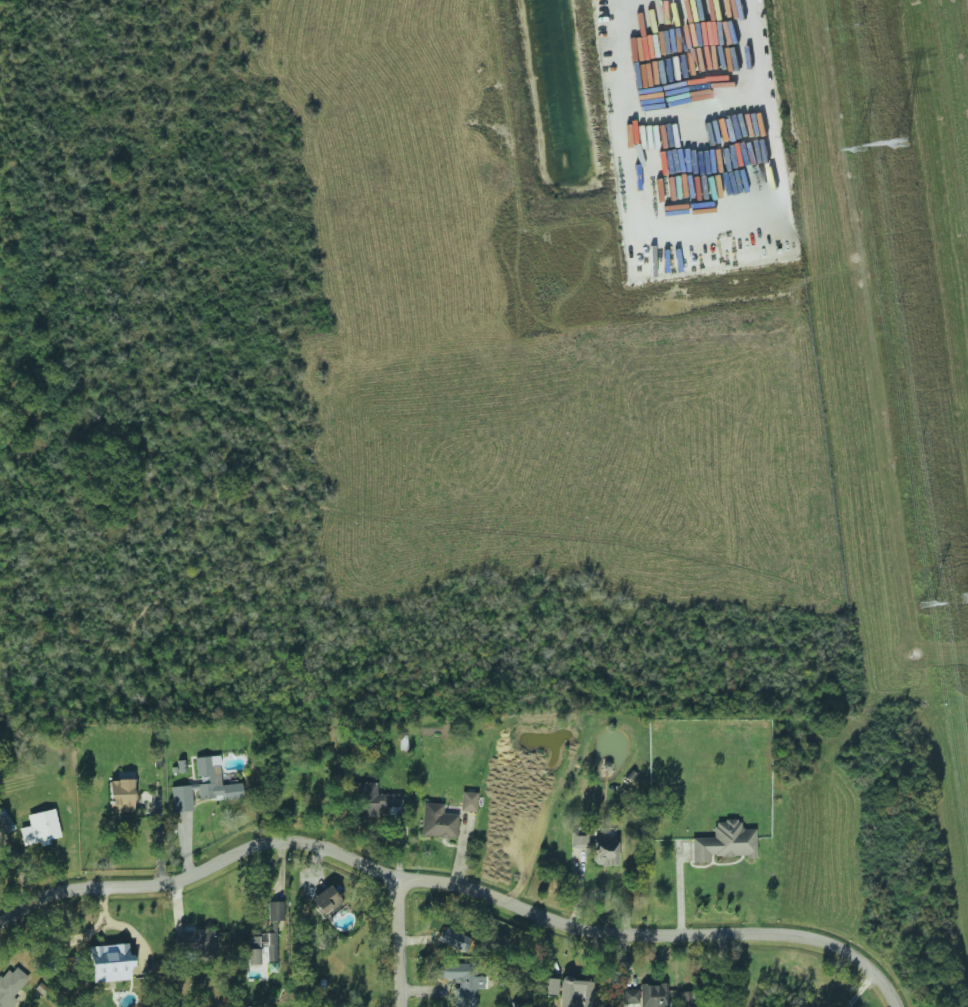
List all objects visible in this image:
road: (764, 106)
power tower: (899, 143)
power tower: (862, 152)
power tower: (967, 597)
power tower: (928, 605)
building: (204, 785)
building: (120, 795)
building: (468, 801)
building: (438, 821)
building: (40, 828)
building: (579, 839)
building: (724, 842)
building: (605, 852)
road: (403, 859)
road: (449, 892)
building: (325, 900)
building: (275, 910)
building: (254, 942)
building: (193, 944)
building: (269, 945)
building: (253, 956)
building: (110, 962)
building: (271, 966)
building: (460, 983)
building: (10, 986)
building: (548, 986)
road: (859, 991)
building: (575, 993)
building: (648, 995)

